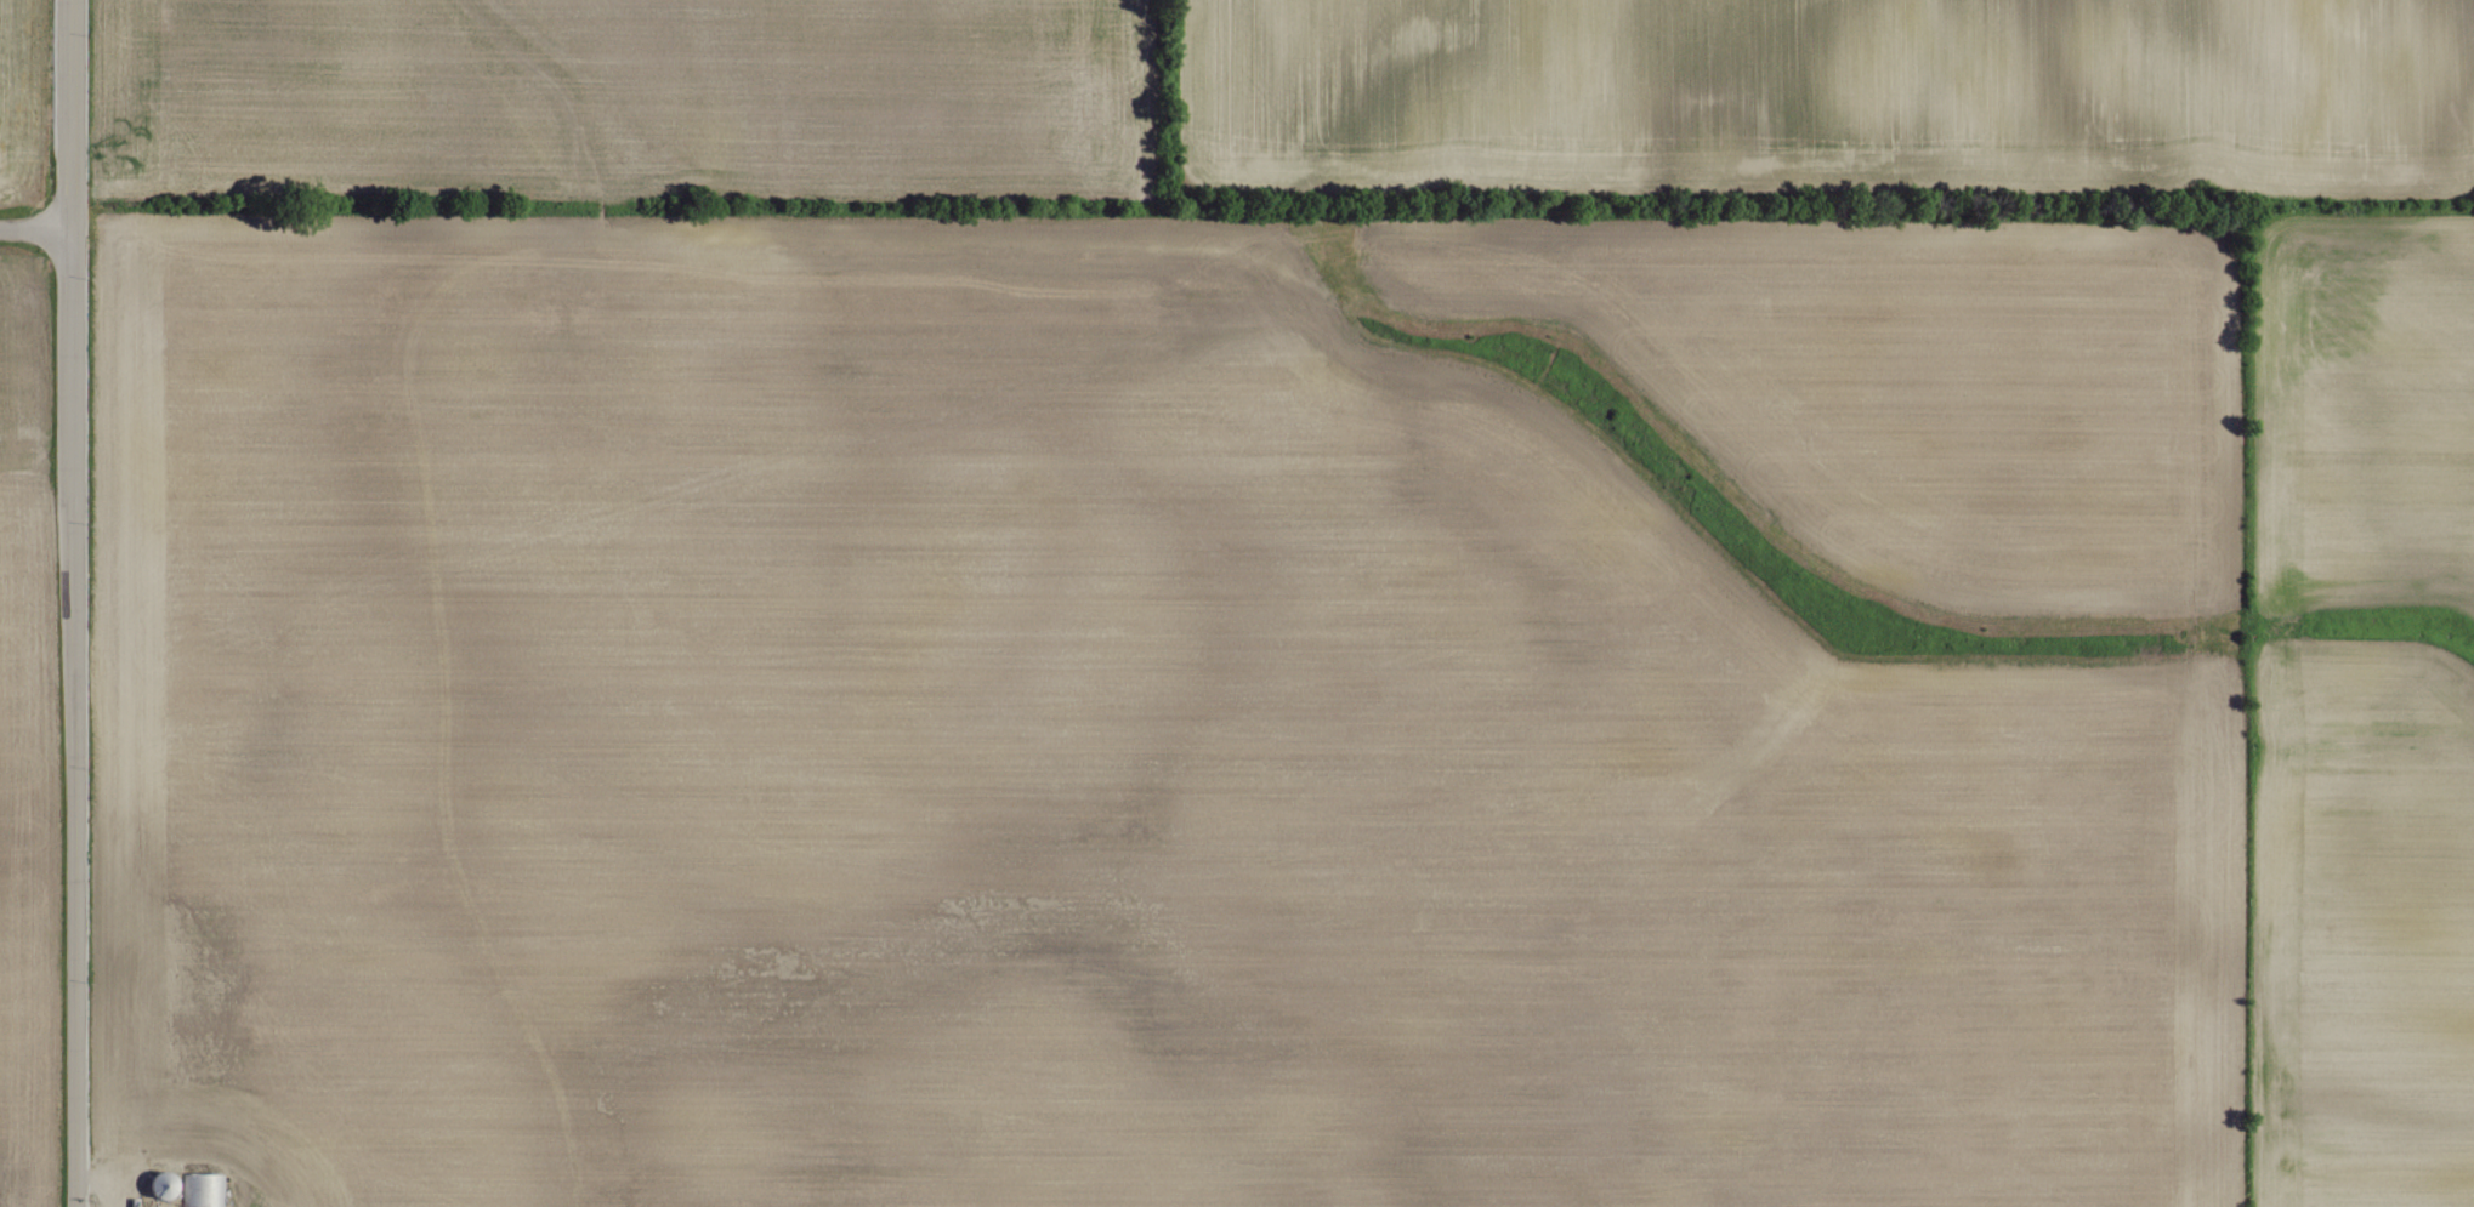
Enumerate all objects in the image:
road: (35, 239)
road: (72, 603)
building: (198, 1189)

